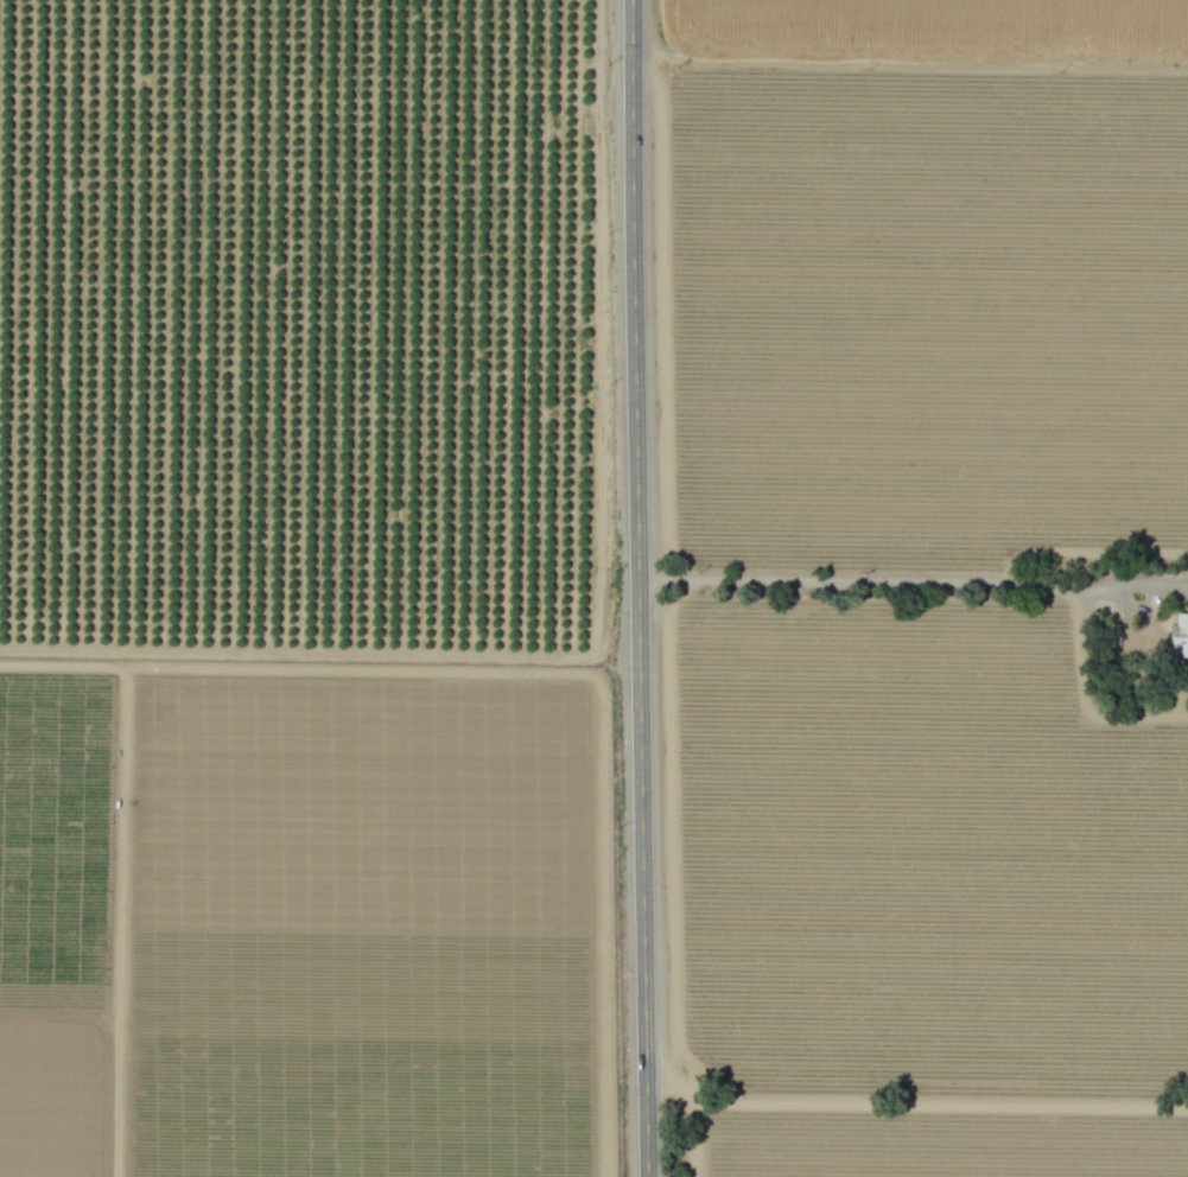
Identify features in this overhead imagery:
road: (913, 581)
road: (639, 588)
road: (915, 1103)

